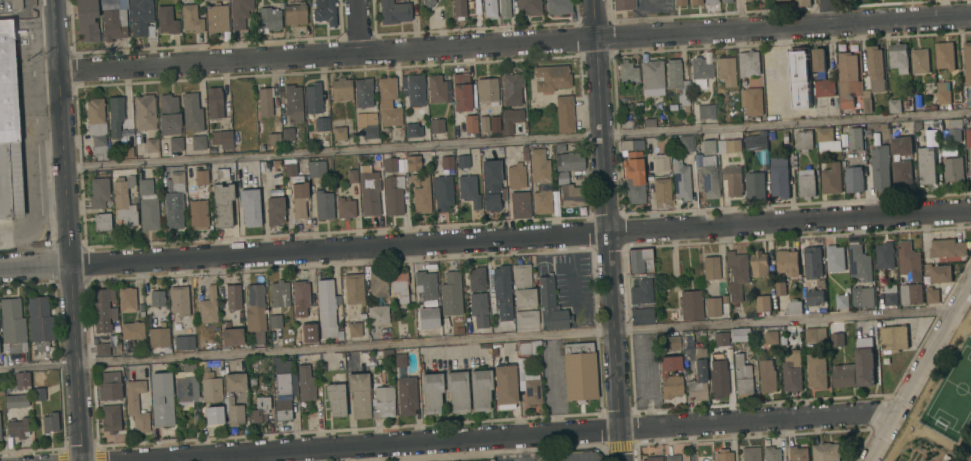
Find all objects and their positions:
building: (212, 0)
building: (749, 0)
building: (773, 0)
building: (726, 1)
building: (679, 2)
building: (428, 3)
building: (710, 3)
building: (803, 3)
building: (16, 4)
building: (623, 4)
building: (695, 4)
building: (528, 7)
building: (558, 7)
building: (489, 8)
building: (504, 8)
building: (458, 9)
building: (239, 12)
building: (325, 12)
building: (394, 12)
road: (827, 13)
building: (295, 15)
building: (140, 16)
road: (640, 17)
building: (191, 19)
building: (216, 19)
building: (87, 20)
building: (166, 20)
building: (269, 20)
building: (114, 24)
road: (358, 27)
road: (514, 43)
building: (945, 55)
building: (899, 57)
building: (819, 60)
building: (920, 61)
building: (967, 62)
building: (748, 63)
building: (875, 68)
building: (700, 69)
building: (726, 71)
building: (627, 72)
building: (801, 77)
building: (551, 78)
building: (652, 78)
building: (848, 79)
building: (676, 81)
building: (511, 87)
building: (824, 88)
building: (341, 89)
building: (437, 89)
building: (413, 90)
building: (487, 90)
building: (461, 92)
building: (363, 93)
building: (866, 93)
building: (943, 93)
building: (313, 98)
building: (752, 101)
building: (264, 102)
building: (215, 103)
building: (388, 103)
building: (293, 104)
building: (867, 105)
building: (894, 105)
building: (933, 107)
building: (685, 109)
building: (706, 111)
building: (144, 112)
building: (191, 113)
building: (564, 114)
building: (115, 115)
building: (169, 115)
building: (512, 116)
building: (470, 121)
building: (649, 122)
building: (322, 124)
building: (483, 124)
building: (494, 124)
building: (625, 124)
building: (918, 124)
building: (934, 124)
building: (367, 125)
building: (436, 125)
building: (96, 127)
building: (883, 127)
building: (9, 128)
building: (413, 130)
building: (953, 130)
building: (338, 133)
building: (868, 133)
building: (289, 135)
building: (855, 138)
building: (221, 139)
building: (273, 139)
building: (827, 140)
road: (518, 141)
building: (804, 141)
building: (756, 142)
building: (198, 143)
building: (968, 143)
building: (175, 144)
building: (685, 144)
building: (151, 145)
building: (625, 145)
building: (708, 146)
building: (729, 146)
building: (902, 146)
building: (559, 147)
building: (500, 150)
building: (128, 154)
building: (796, 155)
building: (524, 156)
building: (463, 161)
building: (569, 162)
building: (661, 162)
building: (413, 164)
building: (389, 165)
building: (446, 165)
building: (927, 166)
building: (880, 167)
building: (316, 169)
building: (953, 169)
building: (290, 170)
building: (902, 174)
building: (352, 176)
building: (516, 176)
building: (779, 176)
building: (201, 177)
building: (633, 177)
building: (831, 179)
building: (541, 180)
building: (680, 180)
building: (733, 180)
building: (854, 180)
building: (413, 181)
building: (709, 181)
building: (492, 185)
building: (278, 186)
building: (755, 186)
building: (807, 186)
building: (469, 190)
building: (661, 190)
building: (570, 192)
building: (98, 193)
building: (369, 193)
building: (442, 193)
building: (421, 196)
building: (393, 197)
building: (299, 199)
building: (222, 200)
building: (174, 201)
building: (124, 202)
building: (519, 205)
building: (148, 206)
building: (323, 206)
building: (250, 207)
building: (345, 208)
building: (275, 211)
building: (198, 214)
road: (34, 217)
building: (102, 222)
road: (69, 230)
road: (606, 230)
road: (485, 239)
building: (946, 250)
building: (884, 255)
building: (835, 258)
building: (926, 260)
building: (639, 262)
building: (787, 262)
building: (813, 262)
building: (859, 263)
building: (908, 263)
building: (760, 264)
building: (711, 268)
road: (572, 271)
building: (939, 273)
building: (736, 275)
building: (476, 279)
building: (820, 283)
building: (426, 284)
building: (378, 285)
building: (522, 285)
building: (400, 286)
building: (780, 288)
building: (354, 289)
building: (641, 292)
building: (502, 293)
building: (279, 294)
building: (451, 294)
building: (911, 294)
building: (890, 295)
building: (932, 295)
building: (300, 296)
building: (233, 297)
building: (814, 297)
building: (863, 297)
building: (156, 298)
building: (724, 299)
building: (127, 300)
building: (179, 300)
building: (842, 302)
building: (763, 303)
building: (691, 305)
building: (550, 306)
building: (208, 307)
building: (712, 307)
building: (140, 308)
building: (794, 308)
building: (103, 309)
building: (478, 309)
building: (327, 310)
building: (255, 312)
building: (412, 315)
building: (378, 316)
building: (642, 316)
building: (526, 317)
building: (428, 318)
building: (275, 322)
building: (40, 323)
building: (116, 326)
building: (12, 328)
building: (310, 330)
building: (355, 330)
building: (459, 330)
building: (132, 331)
building: (739, 335)
building: (158, 336)
building: (231, 336)
building: (771, 337)
building: (817, 337)
road: (477, 339)
building: (720, 339)
building: (894, 339)
building: (297, 340)
building: (837, 340)
building: (183, 343)
building: (672, 343)
building: (129, 347)
building: (527, 348)
building: (102, 349)
building: (400, 360)
building: (865, 361)
building: (522, 365)
building: (694, 367)
building: (420, 370)
building: (816, 371)
road: (917, 371)
building: (579, 372)
building: (792, 372)
building: (843, 375)
building: (767, 376)
building: (670, 377)
building: (741, 377)
building: (718, 378)
building: (284, 379)
building: (22, 382)
building: (234, 382)
building: (252, 382)
building: (209, 384)
building: (306, 384)
building: (186, 385)
building: (109, 386)
building: (505, 386)
building: (480, 389)
building: (457, 391)
building: (431, 392)
building: (532, 392)
building: (39, 394)
building: (359, 395)
building: (406, 396)
building: (161, 399)
building: (335, 399)
building: (16, 402)
building: (383, 403)
building: (136, 406)
park: (940, 407)
building: (261, 410)
building: (234, 413)
building: (214, 415)
building: (283, 415)
building: (110, 418)
building: (50, 423)
building: (18, 428)
road: (515, 434)
building: (0, 436)
building: (826, 452)
building: (797, 453)
building: (750, 454)
building: (771, 454)
building: (723, 455)
building: (653, 458)
building: (671, 458)
building: (490, 460)

